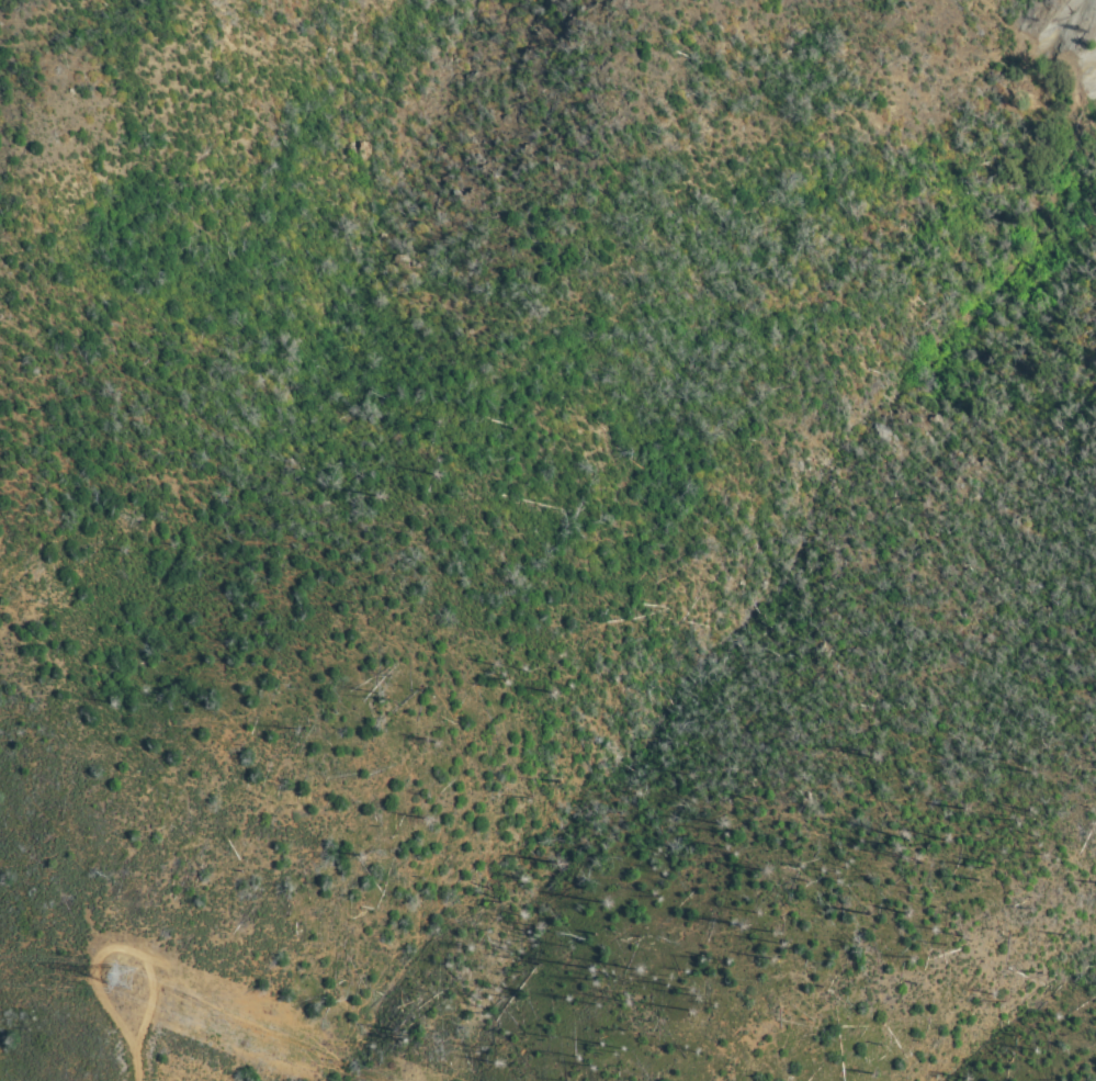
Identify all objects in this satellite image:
power tower: (123, 976)
road: (155, 988)
road: (137, 1065)

